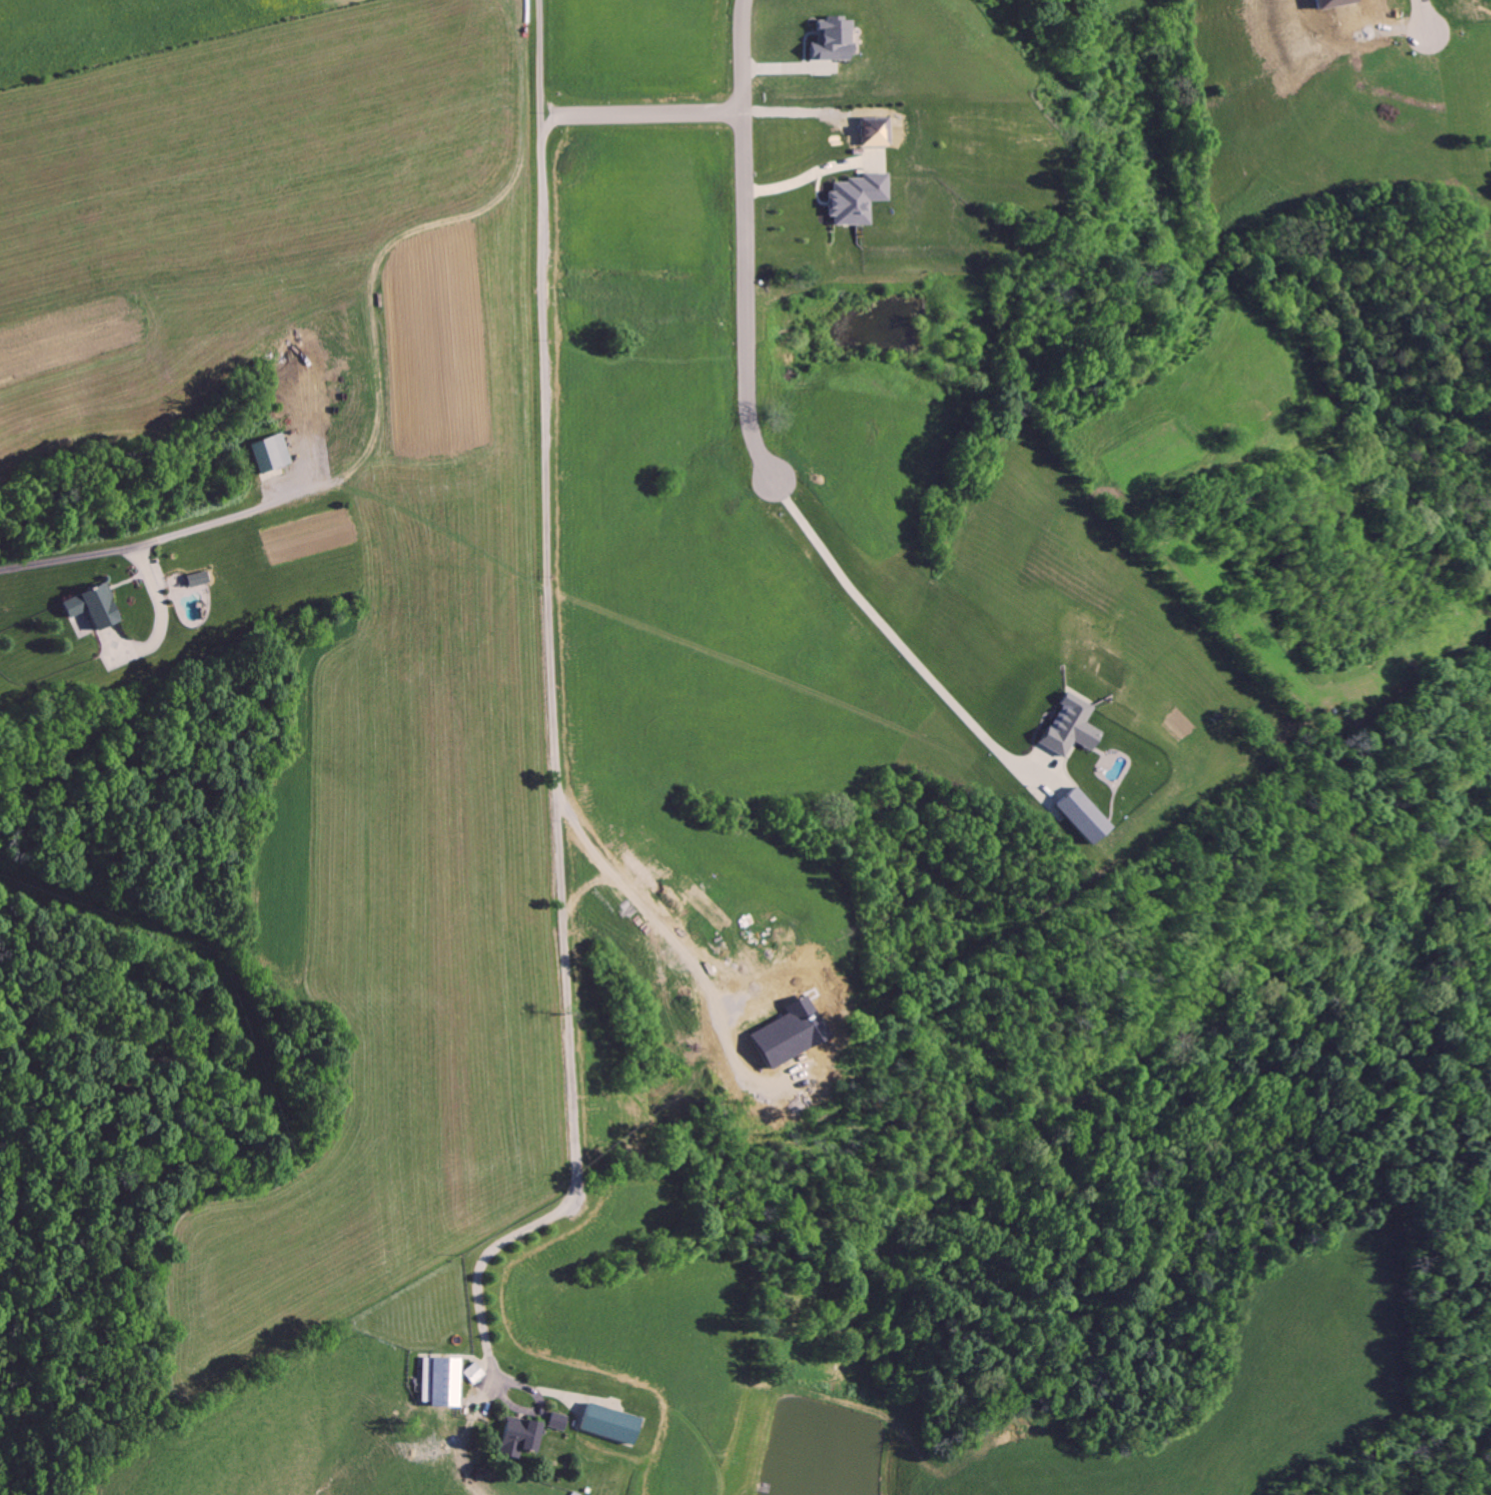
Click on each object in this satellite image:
road: (1422, 17)
building: (831, 40)
road: (692, 103)
road: (809, 175)
building: (856, 199)
road: (738, 290)
building: (271, 454)
road: (141, 545)
building: (198, 580)
building: (91, 608)
road: (163, 609)
road: (881, 616)
building: (1071, 726)
road: (556, 731)
building: (1081, 815)
building: (474, 1373)
building: (443, 1380)
building: (559, 1422)
building: (609, 1423)
building: (519, 1437)

